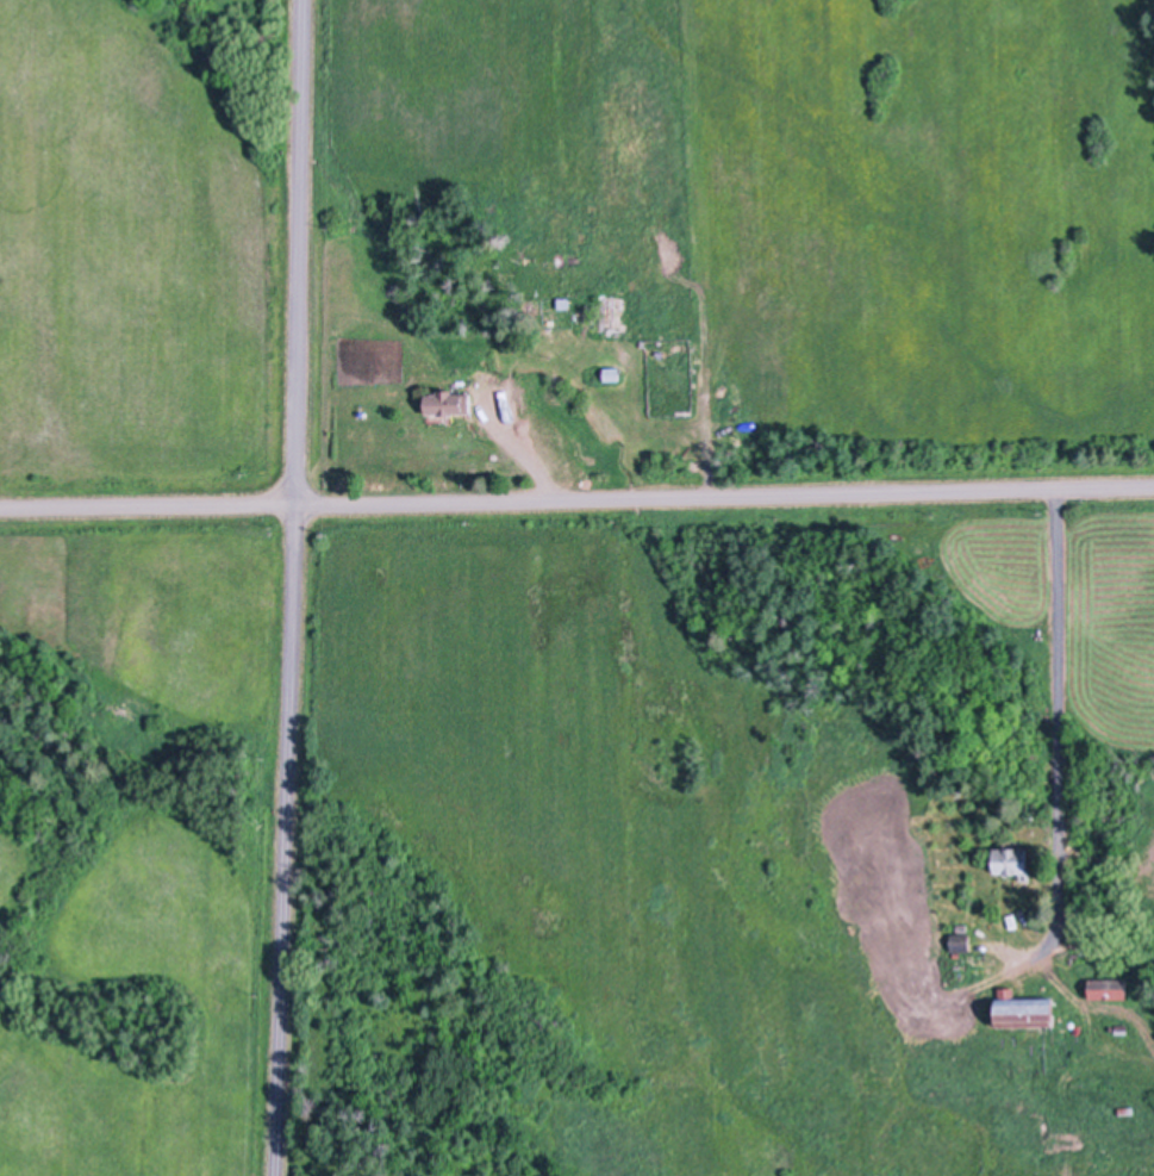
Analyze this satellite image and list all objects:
building: (574, 259)
building: (555, 261)
building: (610, 310)
building: (613, 372)
building: (449, 400)
road: (576, 500)
road: (293, 587)
road: (1058, 732)
building: (1016, 860)
building: (1080, 919)
building: (962, 941)
building: (1110, 987)
building: (1025, 1008)
building: (1123, 1028)
building: (1128, 1110)

